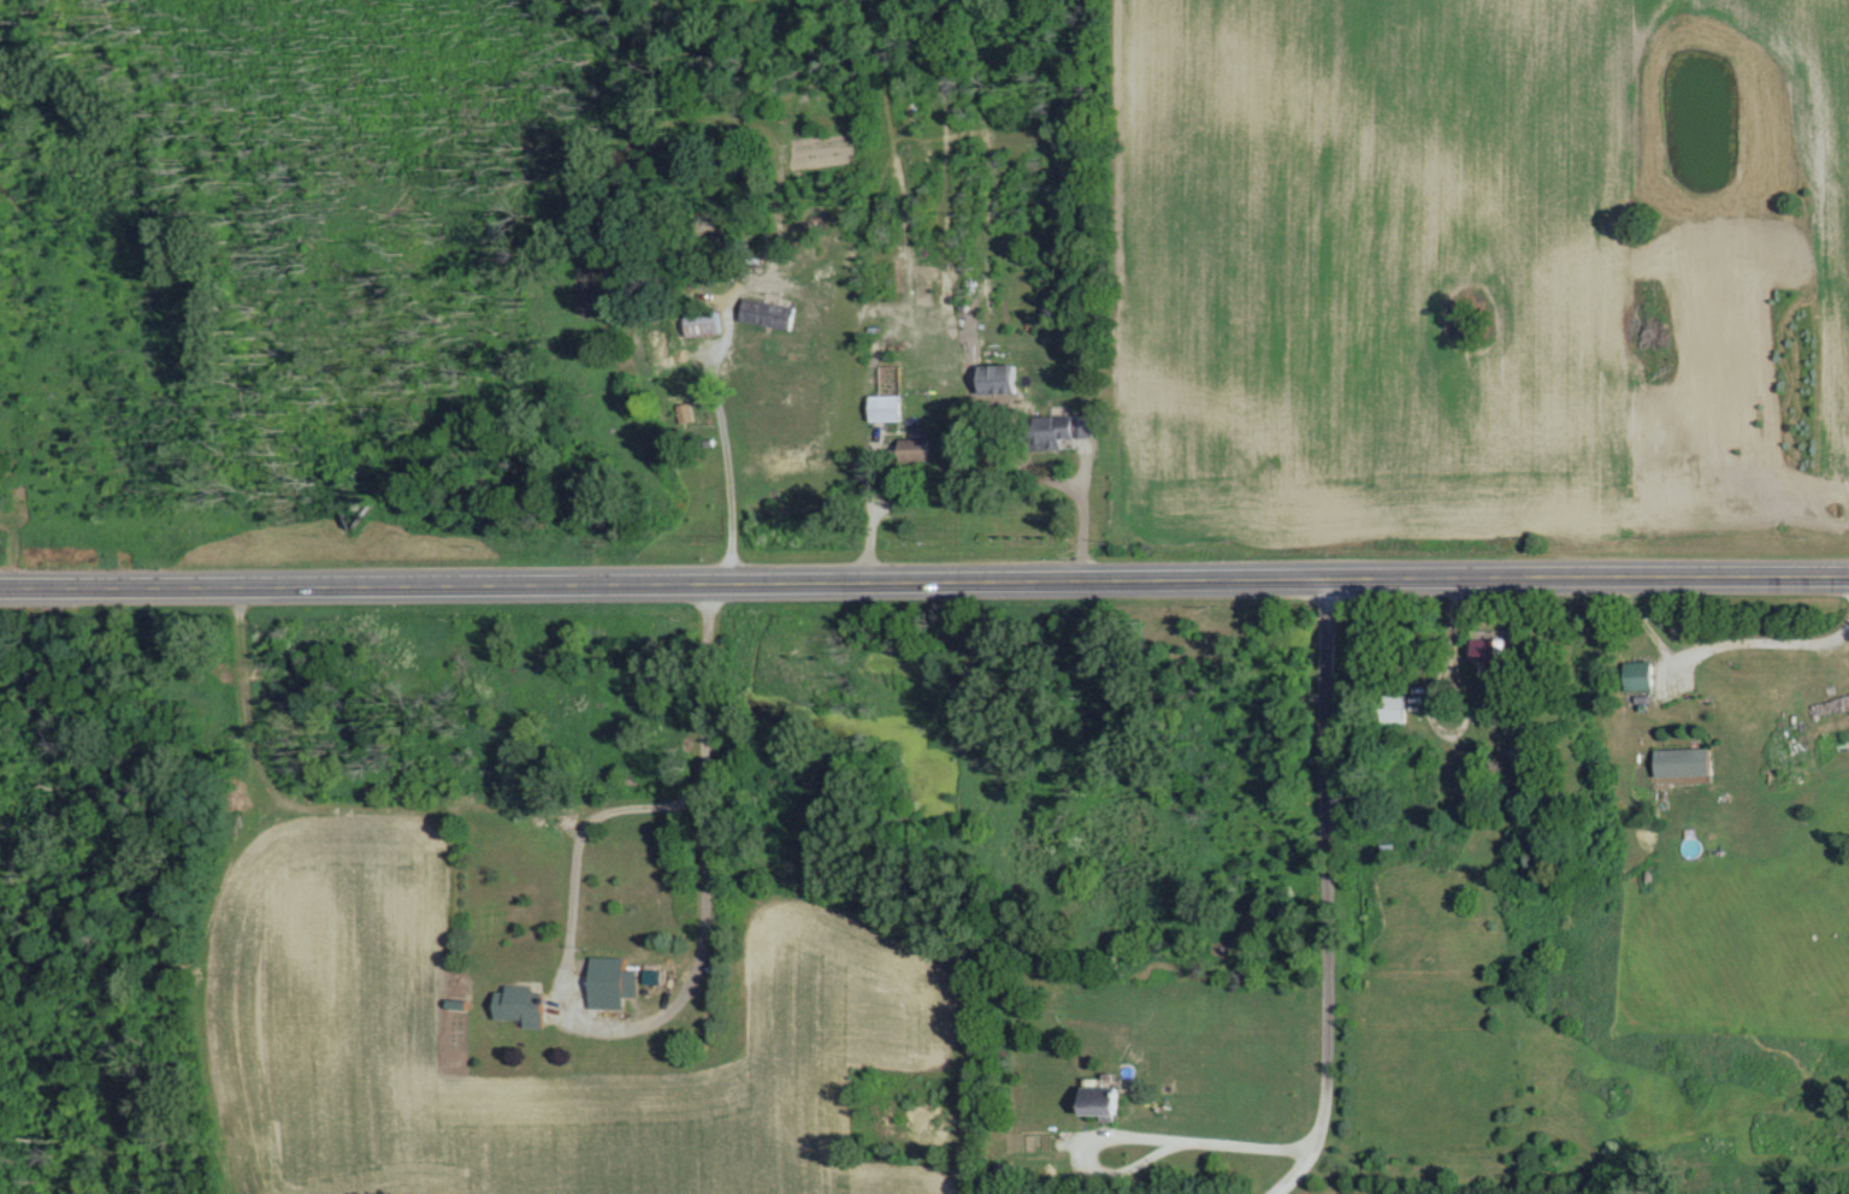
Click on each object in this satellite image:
building: (703, 321)
building: (657, 339)
building: (997, 377)
building: (885, 406)
building: (685, 410)
building: (1059, 427)
building: (914, 448)
road: (719, 467)
road: (1074, 516)
road: (870, 521)
road: (924, 579)
road: (1715, 645)
building: (1494, 656)
building: (1640, 674)
building: (1398, 684)
building: (1395, 707)
building: (1683, 761)
road: (703, 853)
road: (573, 858)
road: (1325, 892)
building: (608, 987)
building: (521, 1001)
building: (1101, 1095)
road: (1206, 1158)

